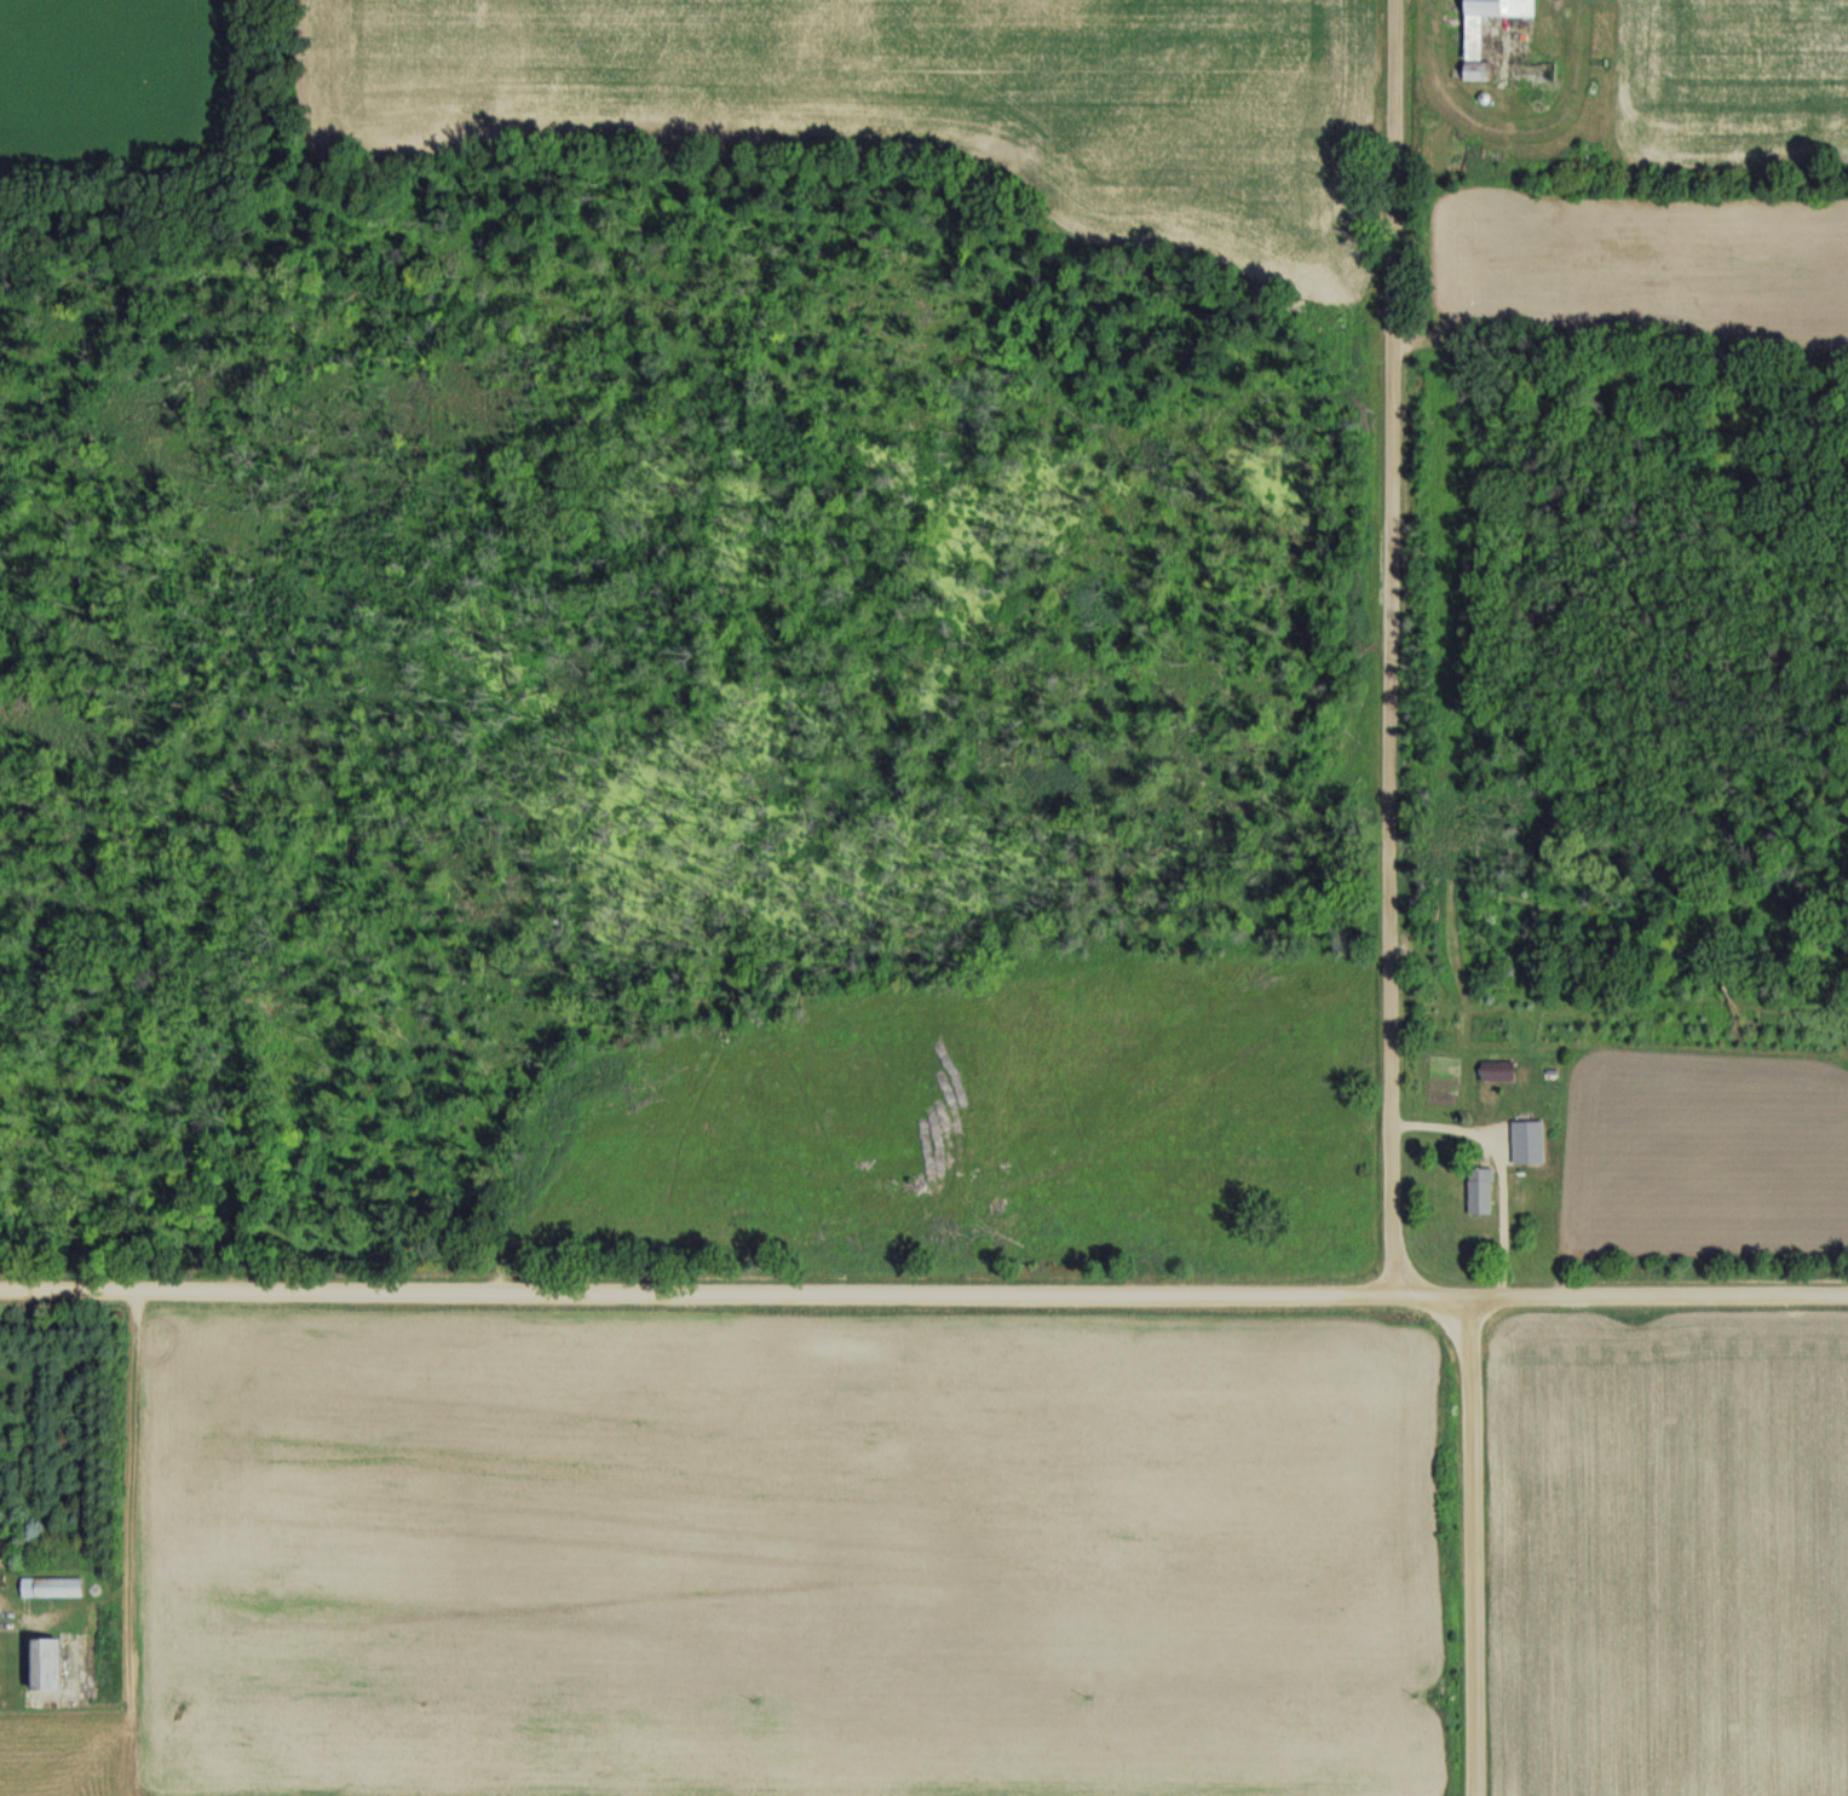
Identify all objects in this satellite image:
building: (1475, 39)
road: (1394, 647)
building: (1499, 1071)
road: (1499, 1170)
building: (1483, 1191)
road: (923, 1294)
road: (1479, 1547)
building: (53, 1587)
building: (47, 1664)

